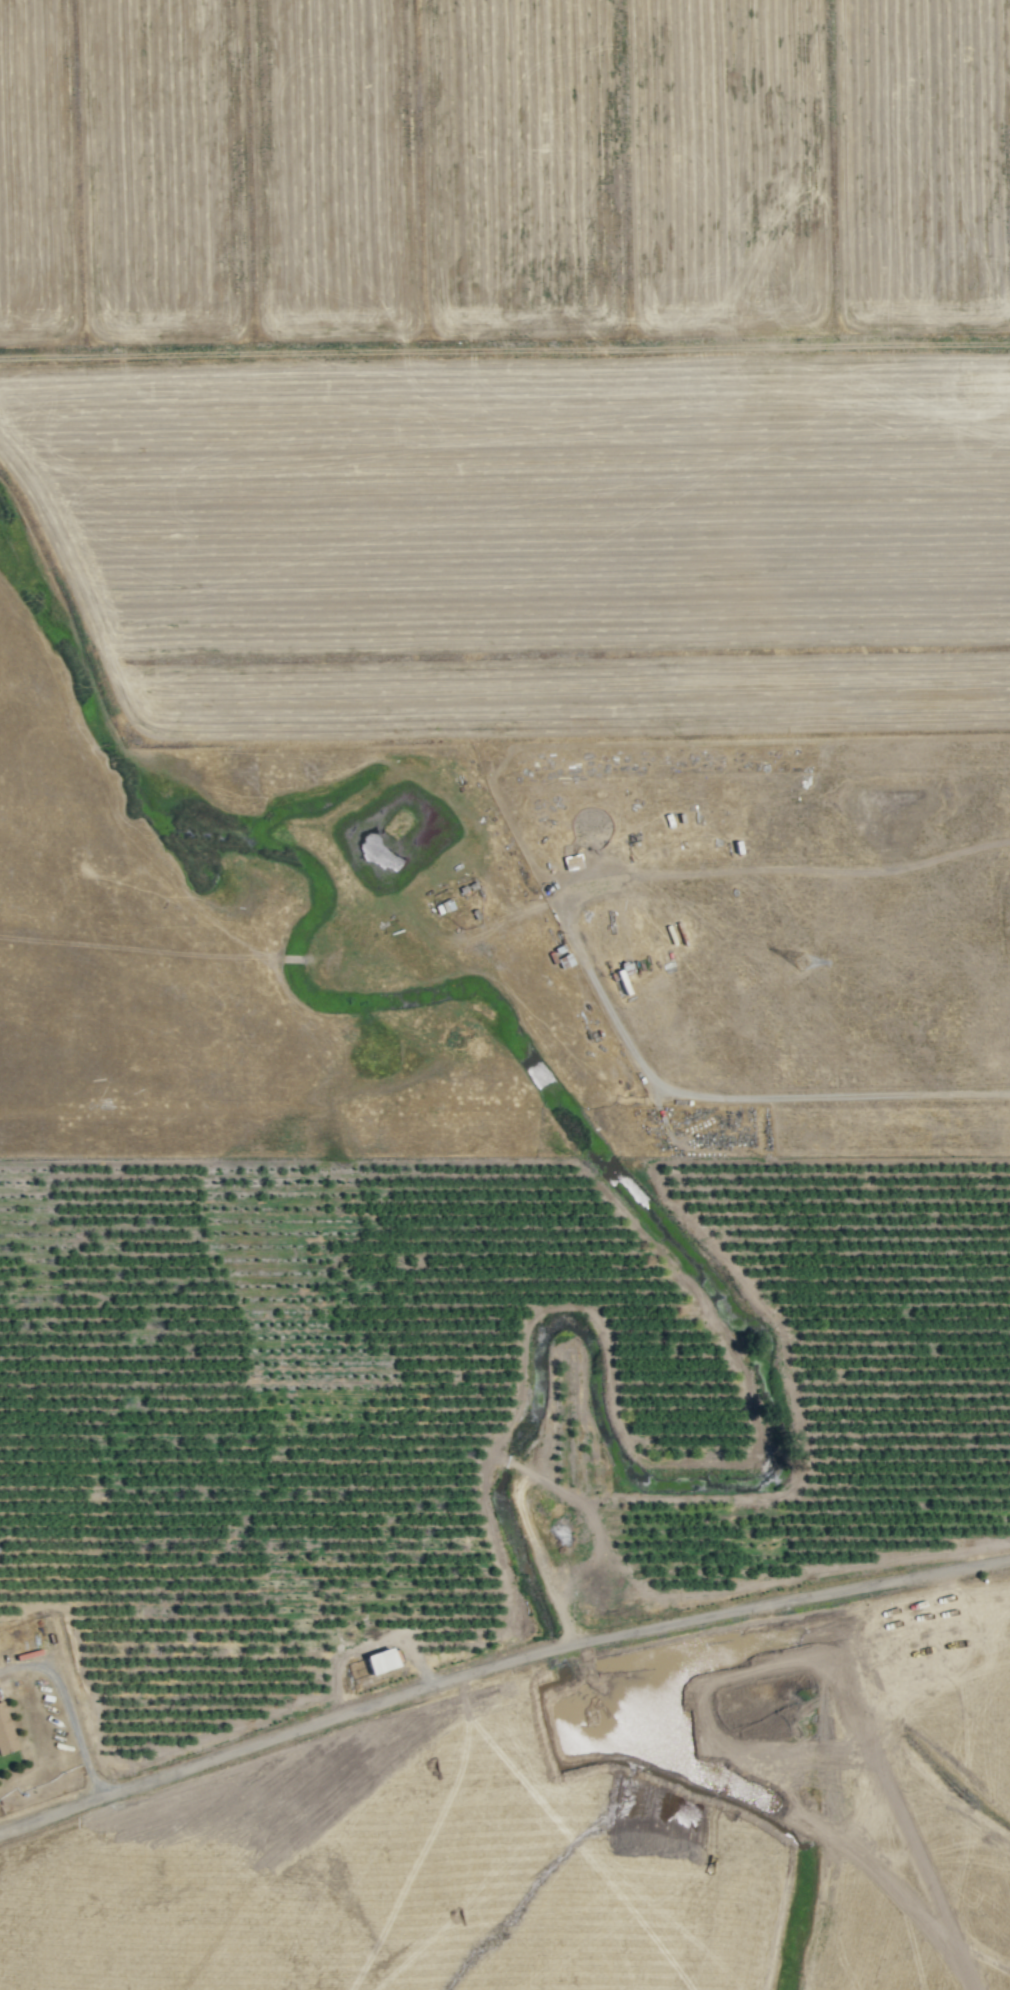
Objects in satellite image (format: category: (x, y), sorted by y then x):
building: (572, 863)
building: (447, 901)
road: (580, 952)
power tower: (800, 965)
building: (380, 1663)
road: (496, 1664)
road: (70, 1710)
building: (5, 1733)

